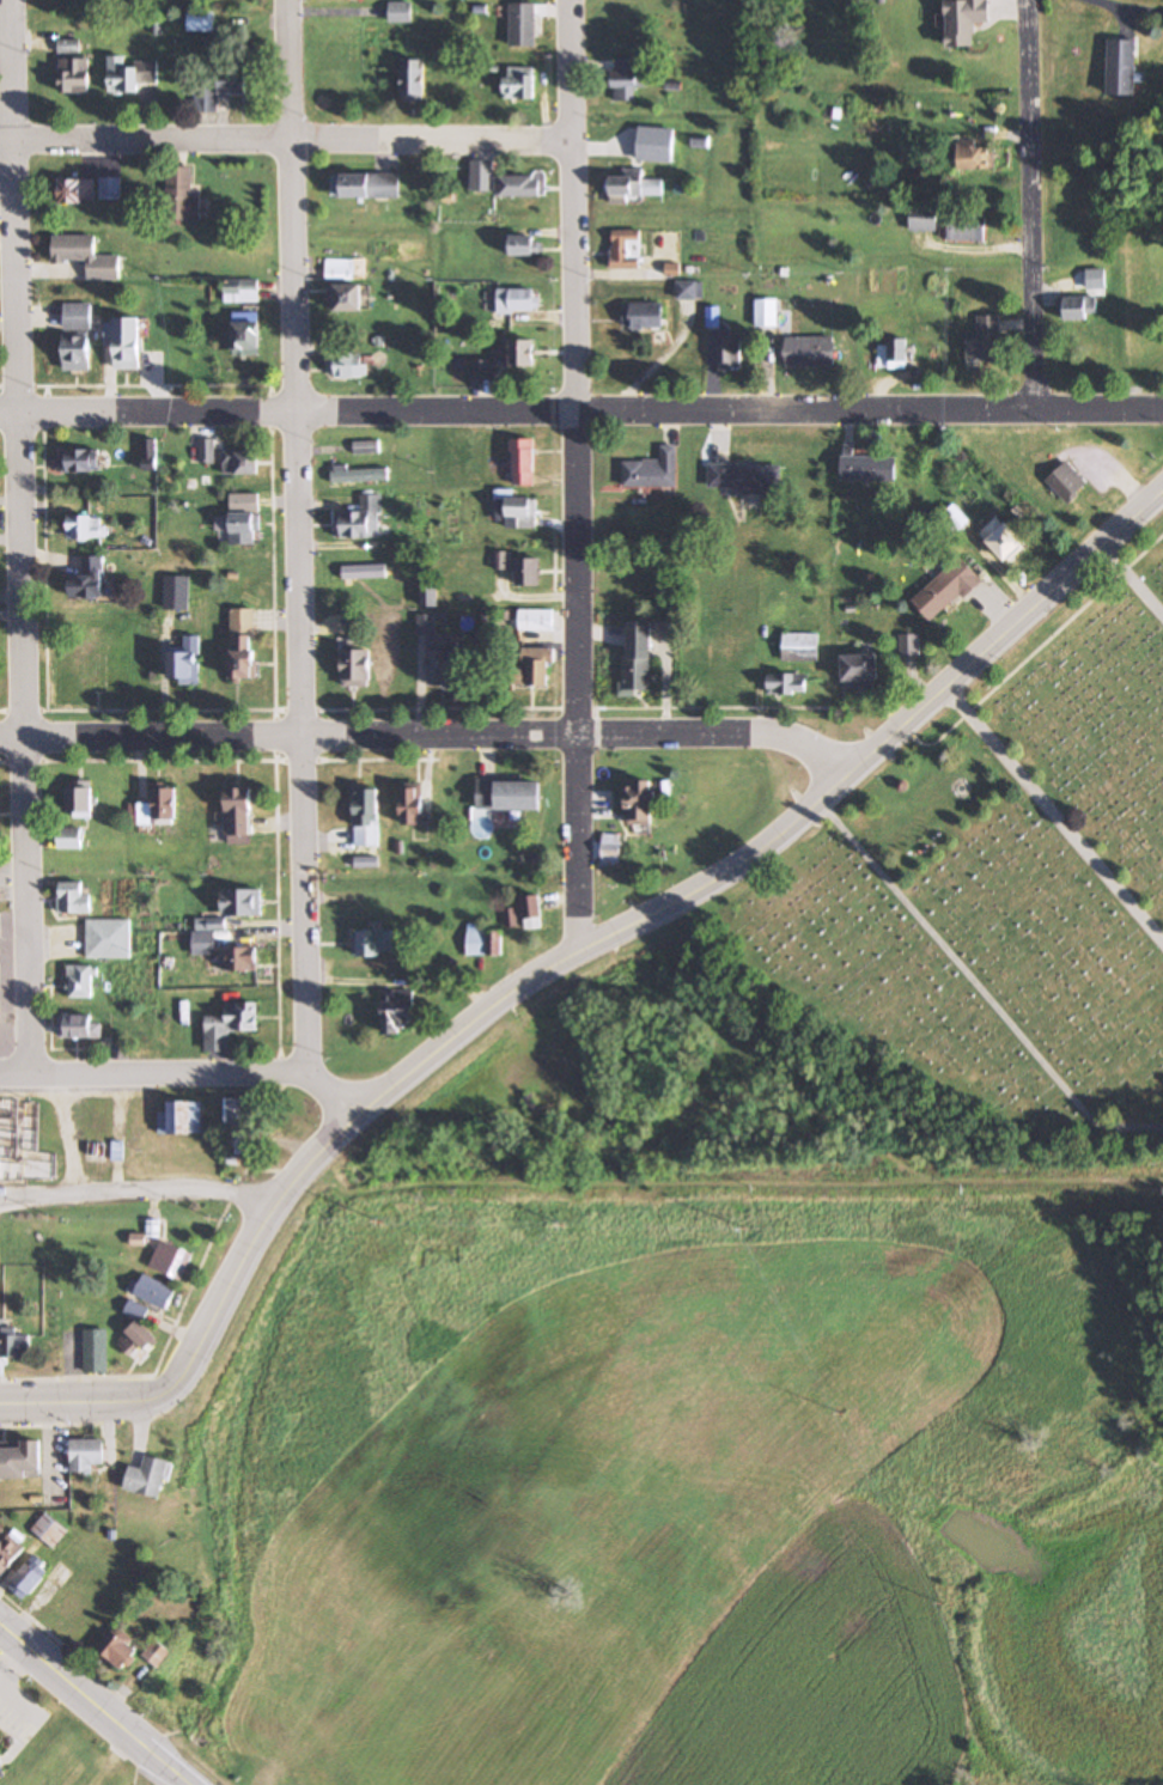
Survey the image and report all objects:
building: (402, 12)
building: (966, 20)
building: (201, 22)
building: (523, 24)
building: (69, 45)
building: (1124, 66)
building: (75, 74)
building: (132, 74)
building: (627, 79)
building: (415, 80)
building: (520, 83)
building: (221, 90)
road: (287, 140)
building: (975, 156)
building: (503, 182)
building: (367, 184)
building: (628, 185)
building: (111, 188)
building: (78, 190)
building: (184, 195)
road: (1031, 205)
building: (924, 217)
building: (968, 226)
building: (522, 244)
building: (627, 249)
road: (976, 249)
building: (86, 255)
building: (340, 268)
building: (690, 288)
building: (346, 296)
building: (518, 299)
building: (1079, 307)
building: (767, 312)
building: (644, 313)
building: (77, 316)
building: (248, 333)
building: (986, 339)
building: (126, 341)
building: (518, 352)
building: (730, 352)
building: (811, 352)
building: (77, 353)
building: (893, 354)
building: (348, 365)
building: (481, 370)
road: (581, 407)
building: (366, 446)
building: (207, 450)
building: (150, 455)
building: (80, 461)
building: (240, 462)
building: (524, 462)
building: (869, 467)
building: (653, 470)
building: (359, 474)
road: (578, 479)
building: (745, 479)
building: (1068, 482)
building: (517, 510)
building: (361, 519)
building: (84, 526)
building: (244, 528)
road: (23, 540)
building: (1004, 540)
building: (529, 571)
building: (89, 578)
road: (1133, 581)
road: (296, 585)
building: (948, 590)
building: (176, 592)
building: (536, 620)
building: (800, 647)
building: (909, 648)
road: (1039, 648)
building: (437, 651)
building: (639, 656)
building: (244, 658)
building: (185, 663)
building: (91, 665)
building: (532, 666)
building: (357, 668)
building: (861, 671)
building: (787, 683)
road: (438, 707)
road: (739, 707)
road: (166, 711)
road: (446, 735)
road: (380, 761)
road: (2, 763)
road: (275, 793)
building: (510, 796)
building: (80, 803)
building: (641, 803)
building: (414, 805)
building: (159, 809)
building: (239, 816)
road: (1054, 816)
building: (367, 817)
building: (69, 839)
park: (1004, 878)
building: (73, 898)
building: (242, 903)
building: (534, 912)
building: (108, 939)
building: (483, 940)
building: (375, 943)
building: (203, 944)
building: (242, 959)
road: (565, 964)
building: (80, 982)
road: (980, 988)
building: (398, 1012)
building: (230, 1025)
building: (79, 1028)
road: (153, 1079)
road: (347, 1084)
building: (238, 1116)
building: (182, 1119)
building: (0, 1168)
road: (136, 1190)
building: (152, 1229)
building: (172, 1260)
building: (153, 1290)
building: (138, 1310)
building: (139, 1339)
building: (13, 1342)
building: (97, 1351)
building: (87, 1455)
building: (20, 1462)
building: (150, 1478)
building: (50, 1530)
building: (11, 1552)
building: (29, 1578)
building: (74, 1610)
building: (118, 1651)
building: (158, 1653)
road: (6, 1687)
road: (87, 1696)
building: (2, 1767)
road: (184, 1778)

